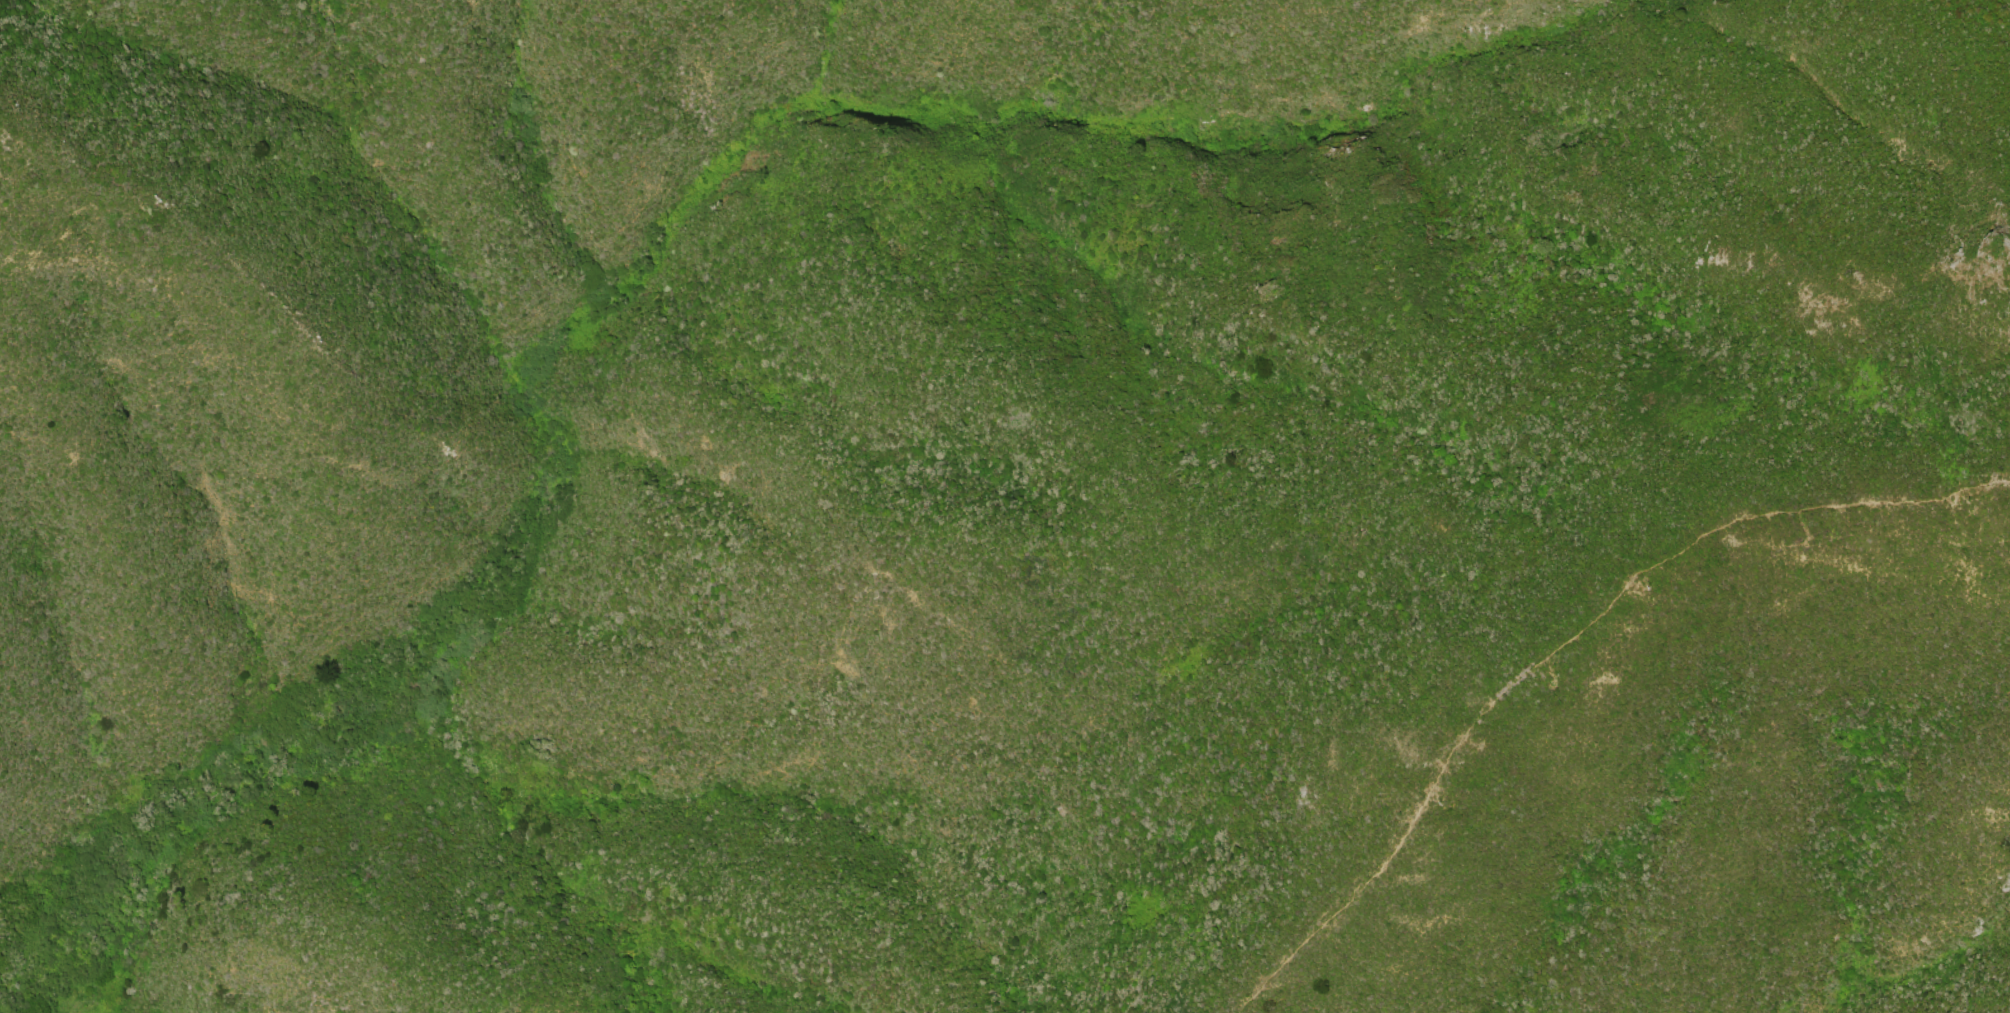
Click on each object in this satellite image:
road: (1562, 643)
park: (1379, 706)

